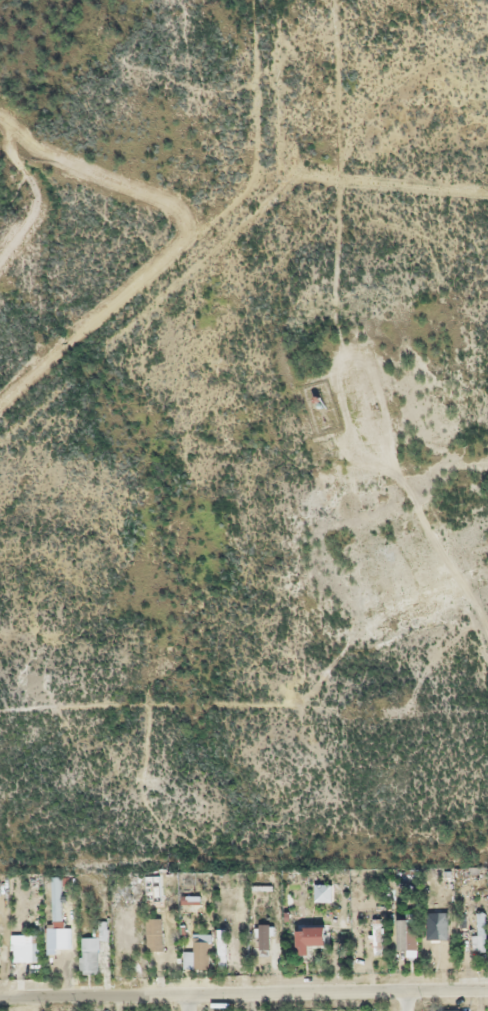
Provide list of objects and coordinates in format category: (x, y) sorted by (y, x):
building: (150, 883)
building: (152, 929)
building: (401, 930)
building: (476, 931)
building: (306, 932)
building: (376, 933)
building: (262, 936)
building: (60, 940)
building: (221, 945)
building: (201, 946)
building: (24, 948)
building: (89, 955)
road: (244, 990)
road: (408, 998)
road: (191, 1001)
building: (446, 1009)
building: (309, 1010)

